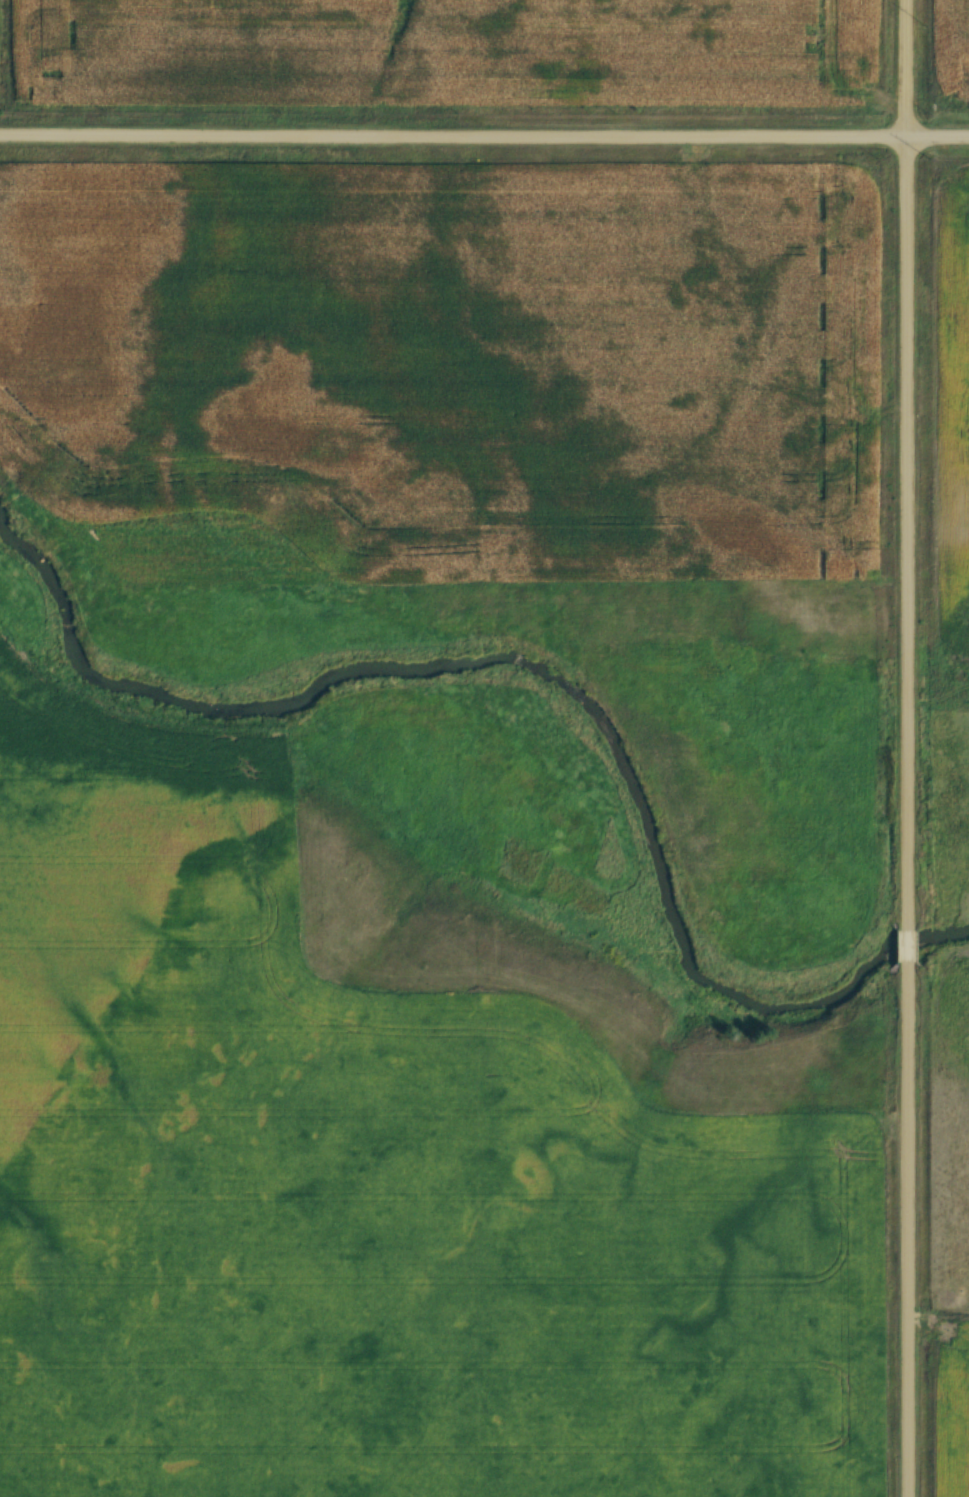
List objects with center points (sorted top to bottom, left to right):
road: (484, 137)
power tower: (928, 160)
road: (909, 748)

